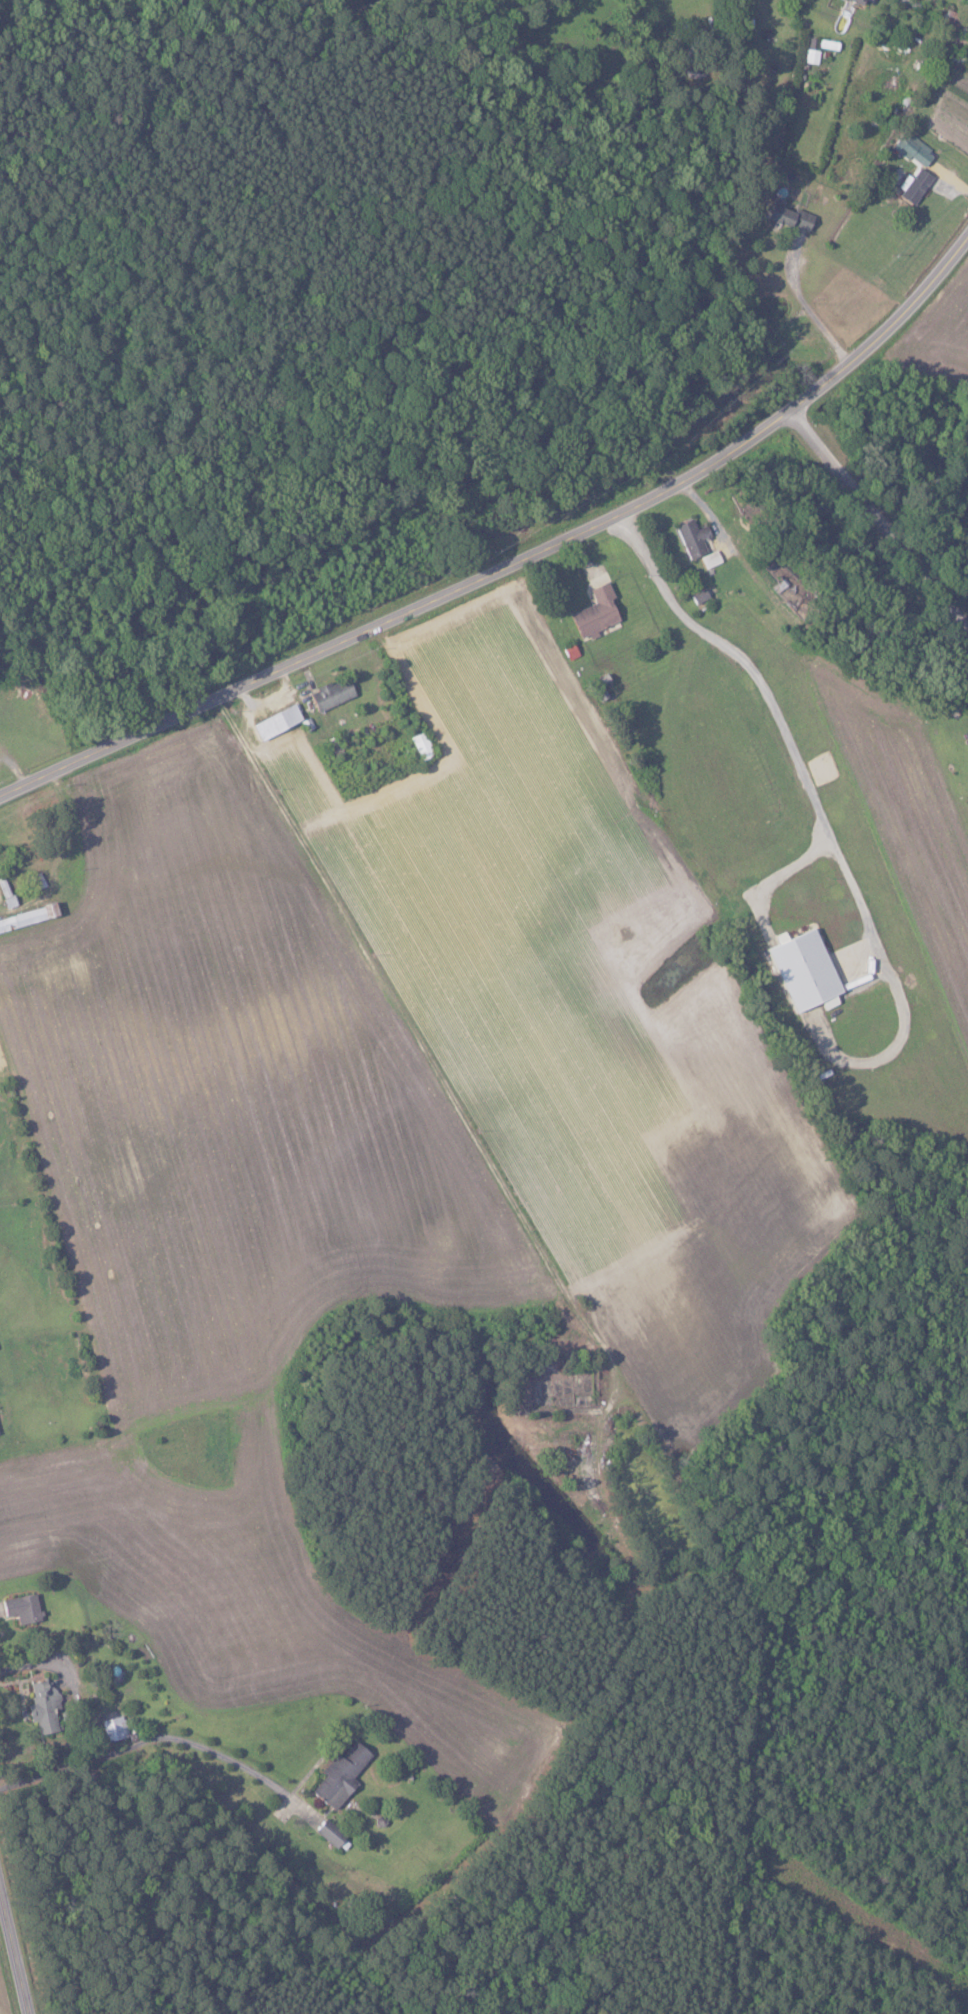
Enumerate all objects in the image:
building: (854, 1)
building: (811, 56)
building: (911, 148)
building: (912, 185)
building: (787, 216)
road: (809, 309)
road: (882, 510)
building: (690, 537)
road: (513, 561)
building: (593, 611)
building: (329, 693)
road: (763, 694)
building: (273, 721)
building: (420, 745)
building: (802, 970)
road: (401, 1036)
building: (20, 1608)
road: (29, 1664)
building: (41, 1707)
building: (114, 1728)
building: (339, 1774)
building: (328, 1833)
road: (15, 1947)

